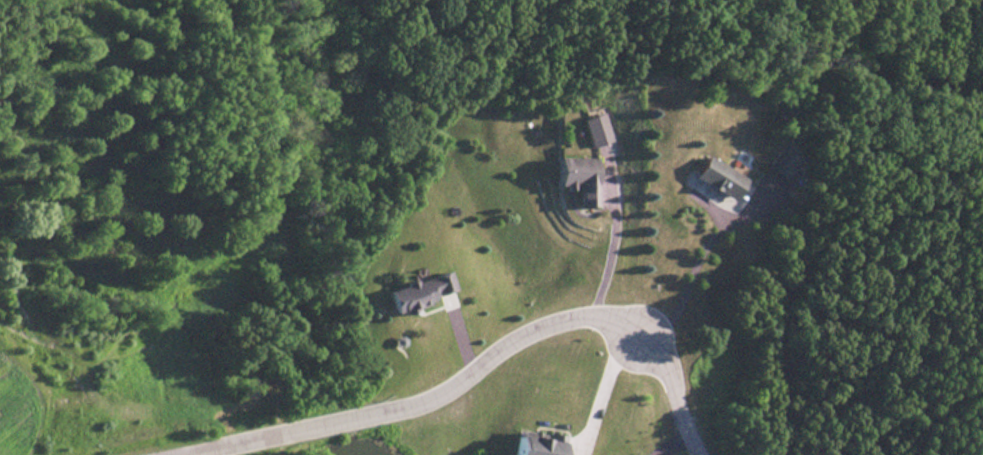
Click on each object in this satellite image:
building: (598, 130)
building: (783, 163)
building: (580, 178)
building: (719, 178)
road: (605, 251)
road: (694, 257)
park: (894, 281)
building: (421, 292)
road: (480, 363)
building: (270, 392)
building: (539, 445)

